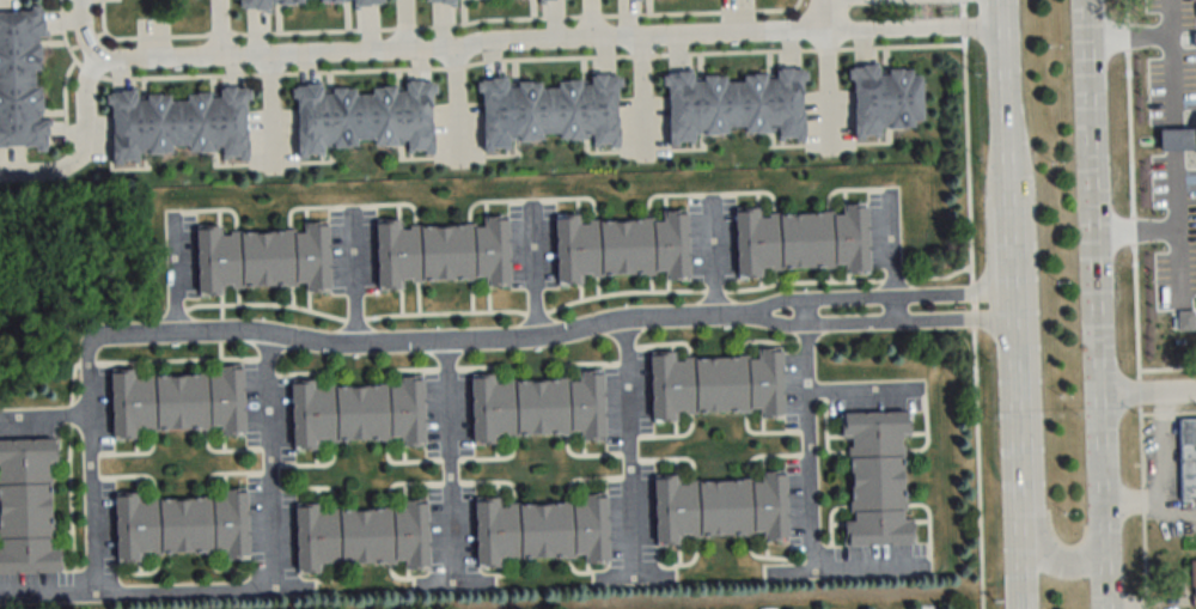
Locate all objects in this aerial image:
building: (427, 0)
building: (446, 1)
building: (542, 1)
building: (362, 2)
building: (262, 4)
road: (824, 16)
road: (1167, 17)
road: (402, 24)
road: (220, 26)
road: (86, 29)
road: (911, 30)
road: (1168, 41)
road: (462, 45)
building: (22, 78)
road: (829, 91)
road: (641, 96)
building: (885, 102)
building: (733, 104)
road: (1002, 106)
road: (456, 108)
building: (549, 109)
road: (270, 111)
building: (366, 112)
building: (179, 121)
road: (1172, 141)
road: (84, 147)
road: (1090, 197)
road: (1176, 226)
road: (1134, 231)
building: (801, 239)
building: (621, 248)
building: (441, 252)
road: (1007, 254)
building: (261, 257)
road: (713, 257)
road: (175, 272)
road: (532, 273)
road: (352, 278)
road: (879, 296)
road: (975, 304)
road: (1139, 304)
road: (892, 309)
road: (804, 313)
road: (879, 322)
road: (420, 341)
building: (716, 384)
road: (859, 388)
road: (1147, 395)
building: (176, 402)
building: (537, 407)
building: (356, 413)
road: (44, 414)
road: (810, 450)
road: (1013, 450)
road: (629, 451)
building: (1186, 457)
road: (267, 461)
road: (1036, 464)
road: (1161, 473)
building: (877, 479)
road: (1102, 501)
building: (26, 506)
building: (720, 507)
building: (181, 525)
building: (539, 530)
building: (360, 537)
building: (1192, 579)
road: (273, 589)
road: (55, 592)

